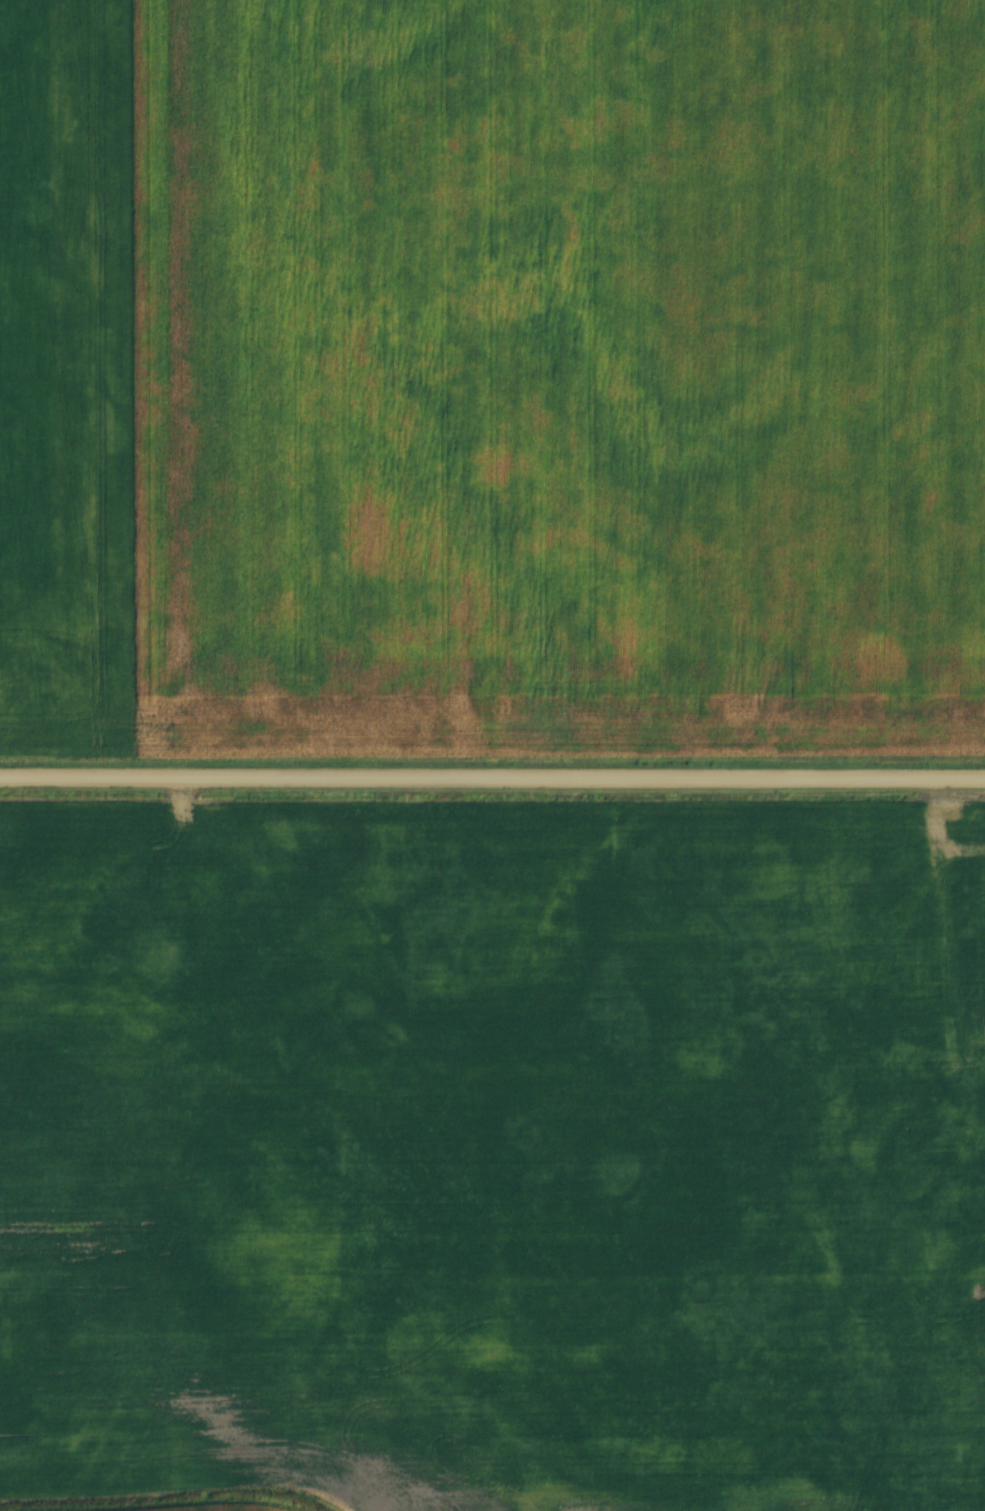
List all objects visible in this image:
road: (492, 781)

